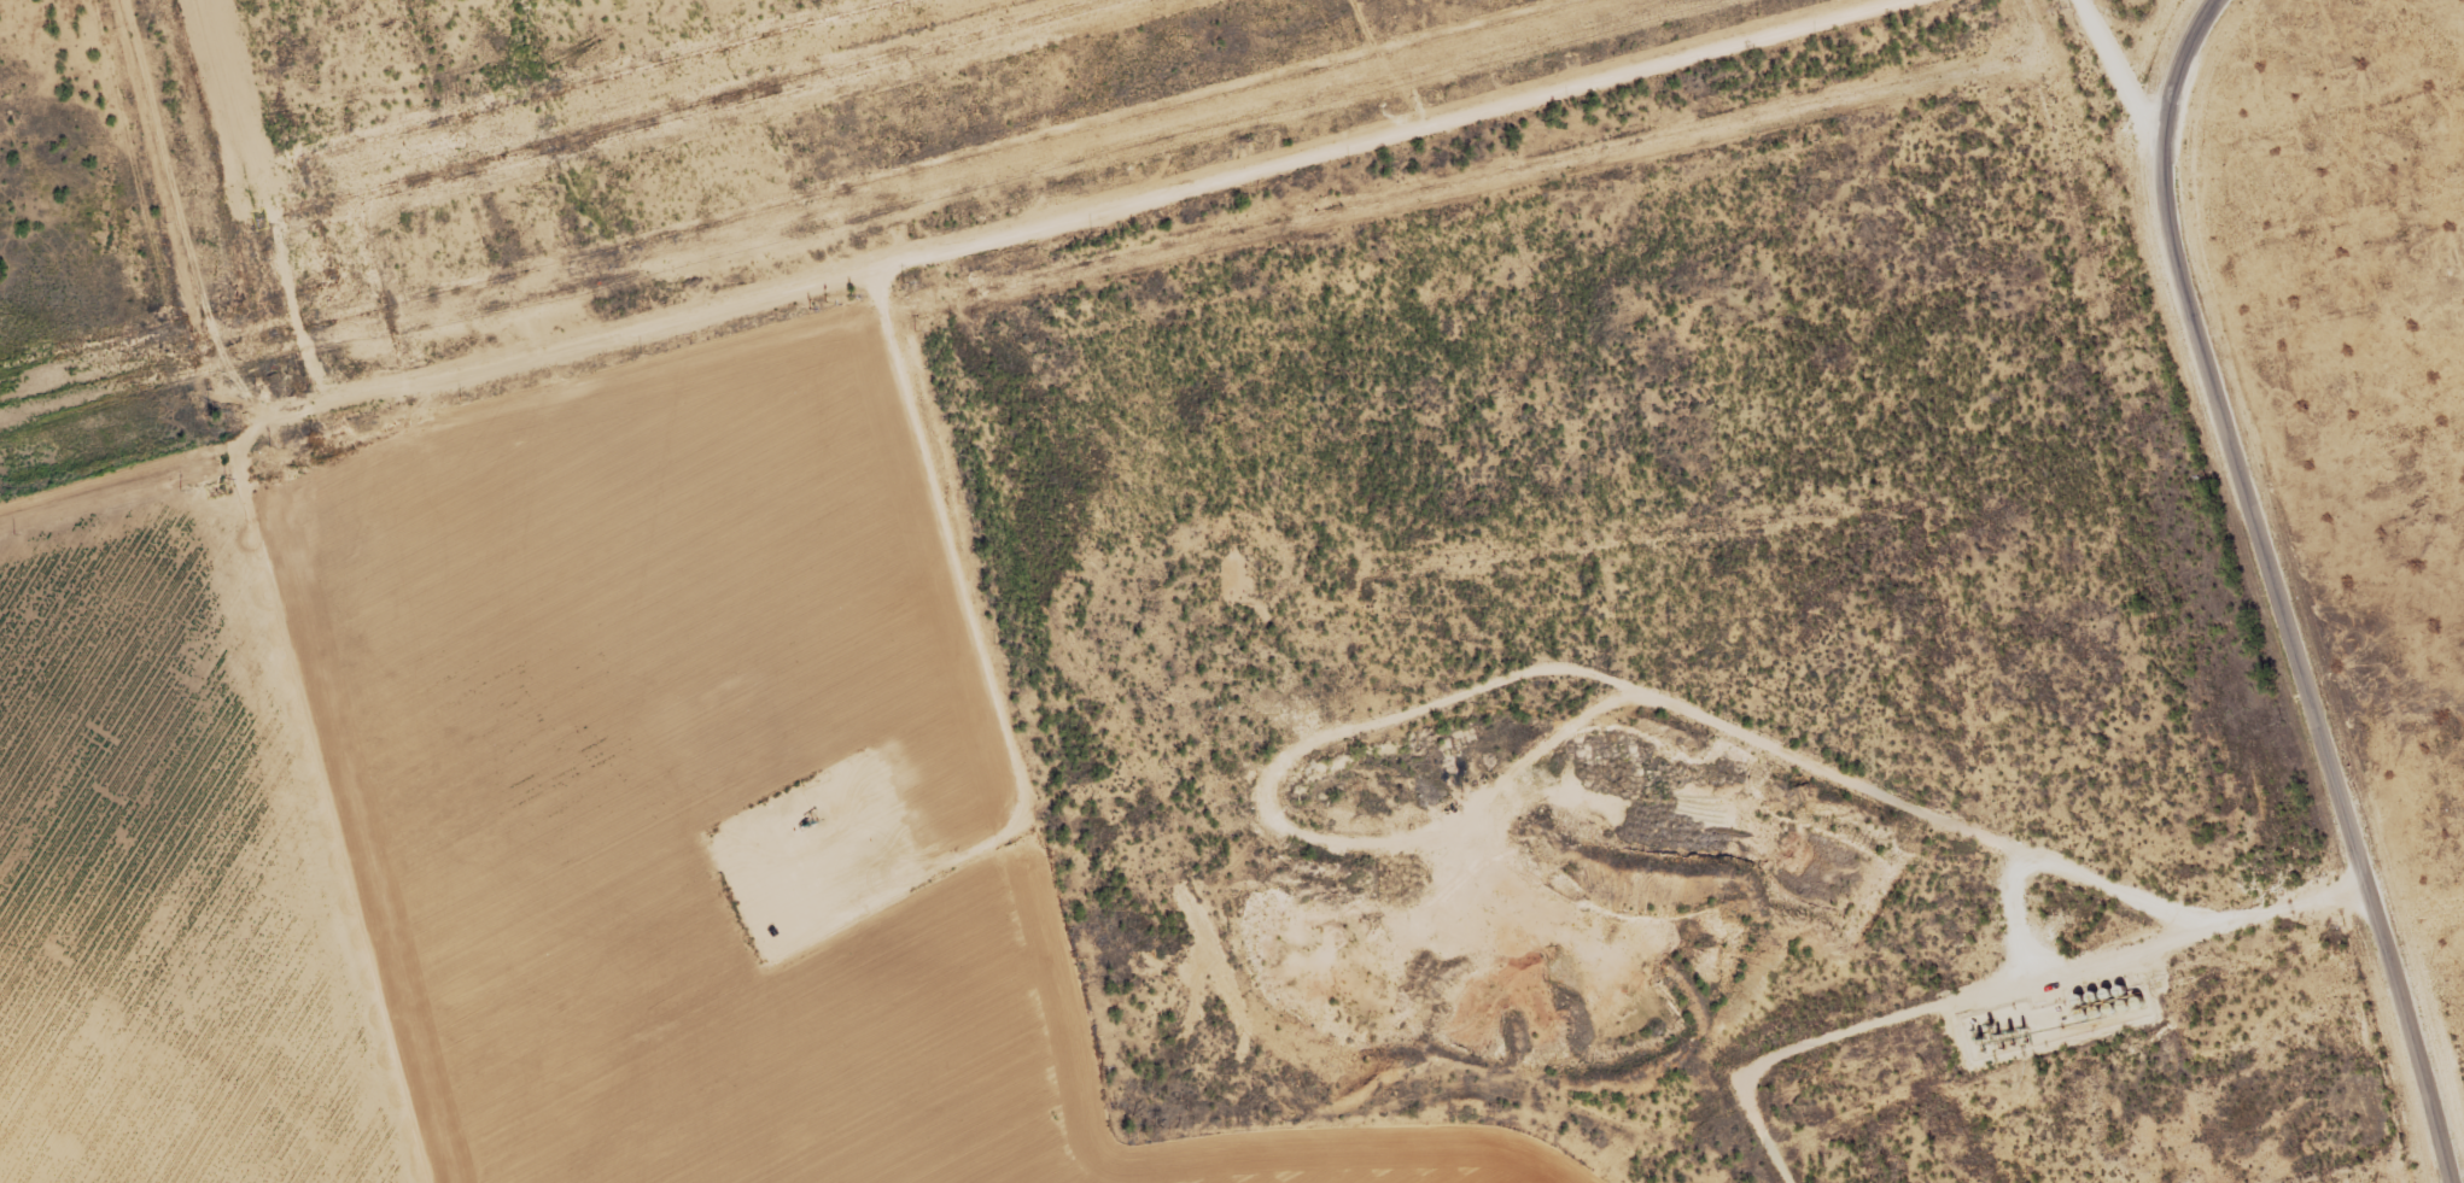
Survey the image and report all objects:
road: (2109, 75)
road: (2207, 77)
road: (2307, 658)

